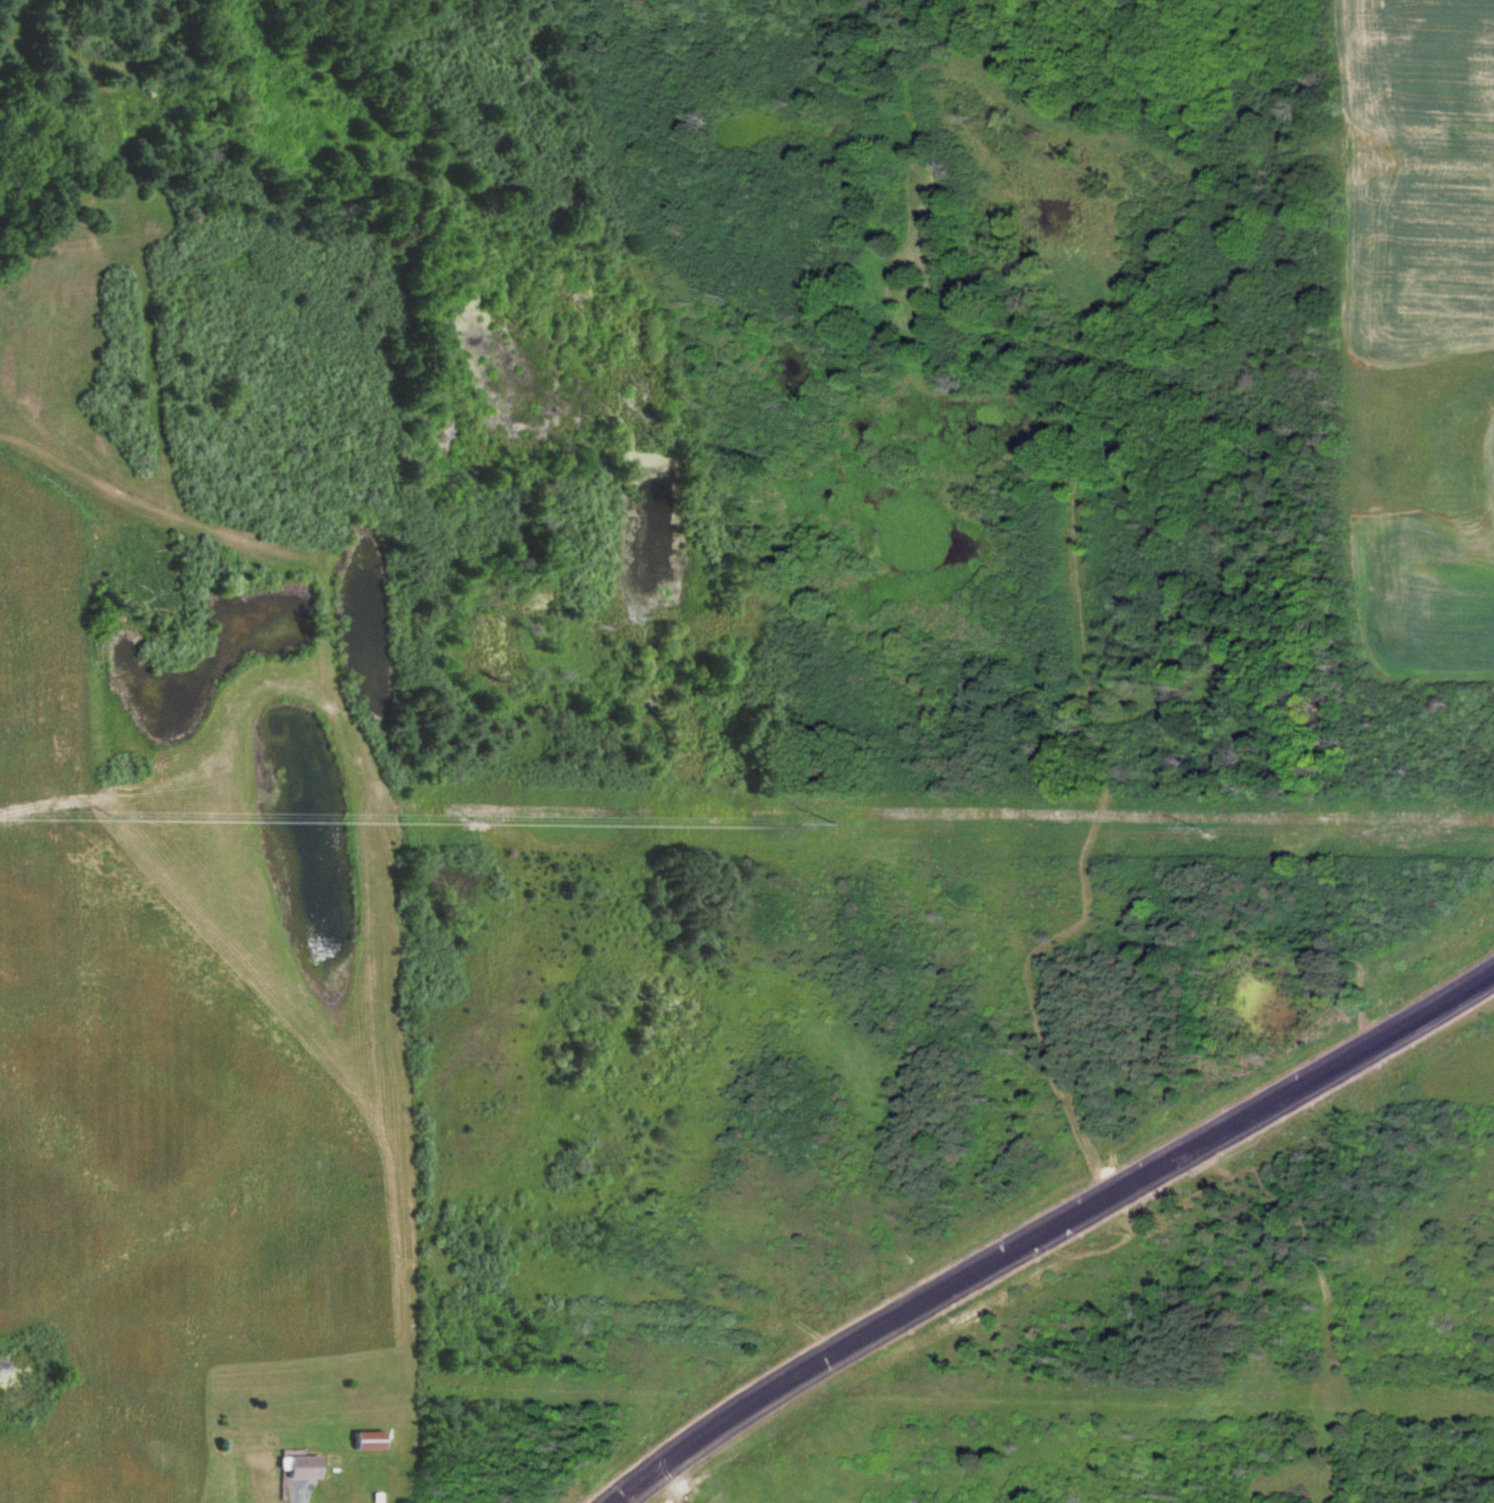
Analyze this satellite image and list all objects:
road: (1049, 1229)
building: (370, 1439)
building: (304, 1467)

